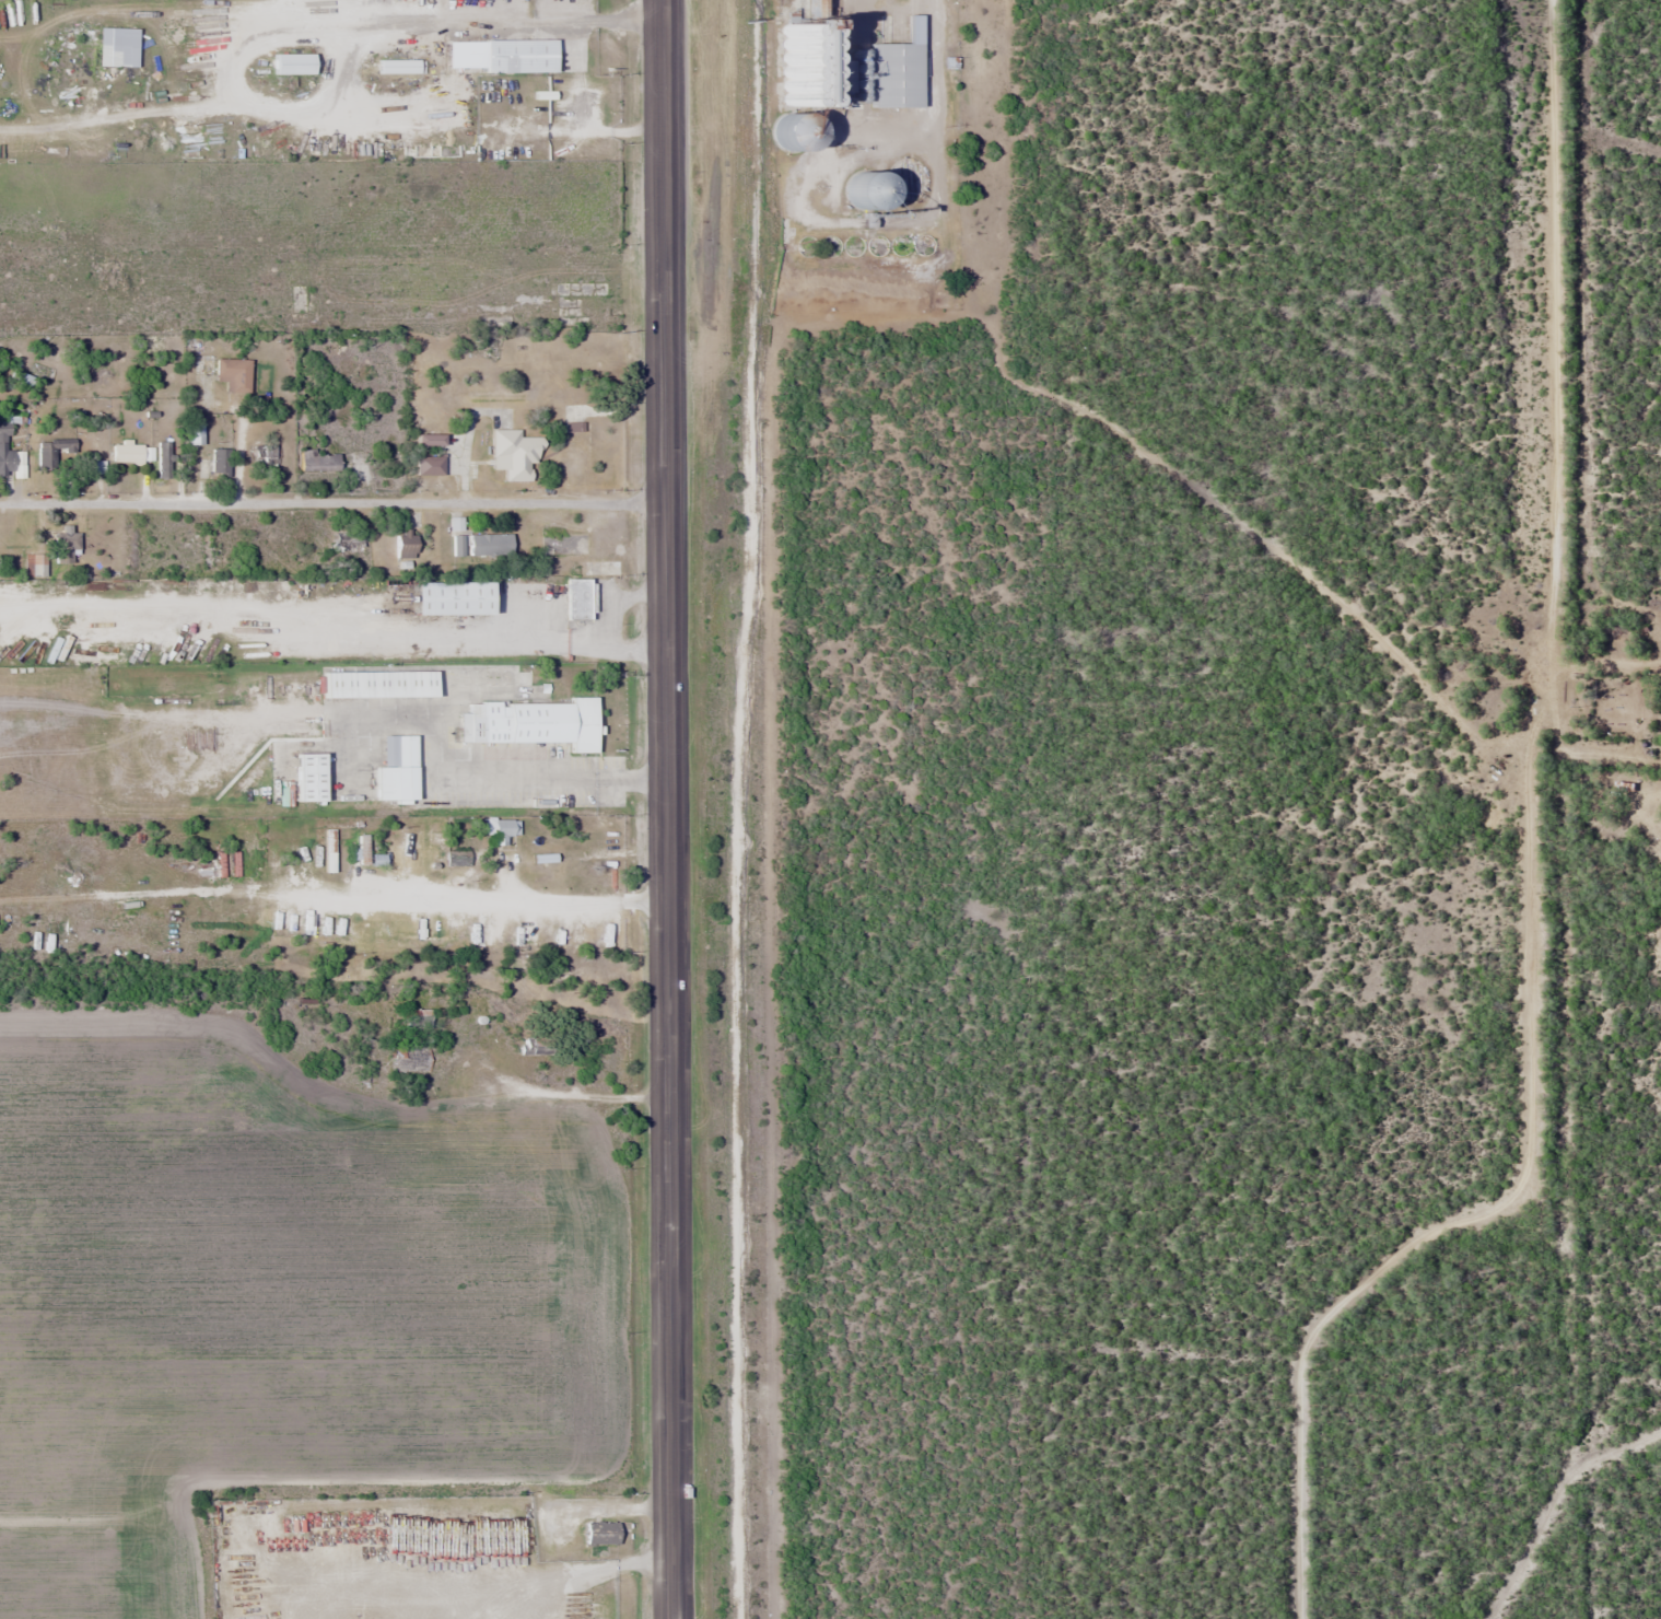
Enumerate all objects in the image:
building: (819, 8)
building: (518, 55)
building: (787, 59)
building: (291, 63)
building: (397, 66)
building: (894, 72)
building: (835, 74)
building: (789, 138)
building: (863, 189)
road: (663, 190)
building: (232, 374)
building: (92, 443)
building: (5, 450)
building: (52, 451)
building: (127, 453)
building: (514, 453)
building: (264, 455)
building: (164, 461)
building: (219, 461)
building: (318, 461)
building: (428, 465)
road: (332, 503)
building: (455, 523)
building: (403, 544)
building: (489, 544)
building: (457, 545)
building: (65, 546)
building: (449, 597)
building: (577, 598)
building: (378, 683)
building: (530, 723)
road: (1610, 752)
road: (451, 764)
building: (397, 772)
building: (308, 777)
railway: (729, 809)
building: (501, 829)
road: (1559, 870)
road: (668, 999)
building: (418, 1022)
building: (534, 1046)
road: (466, 1103)
building: (600, 1533)

